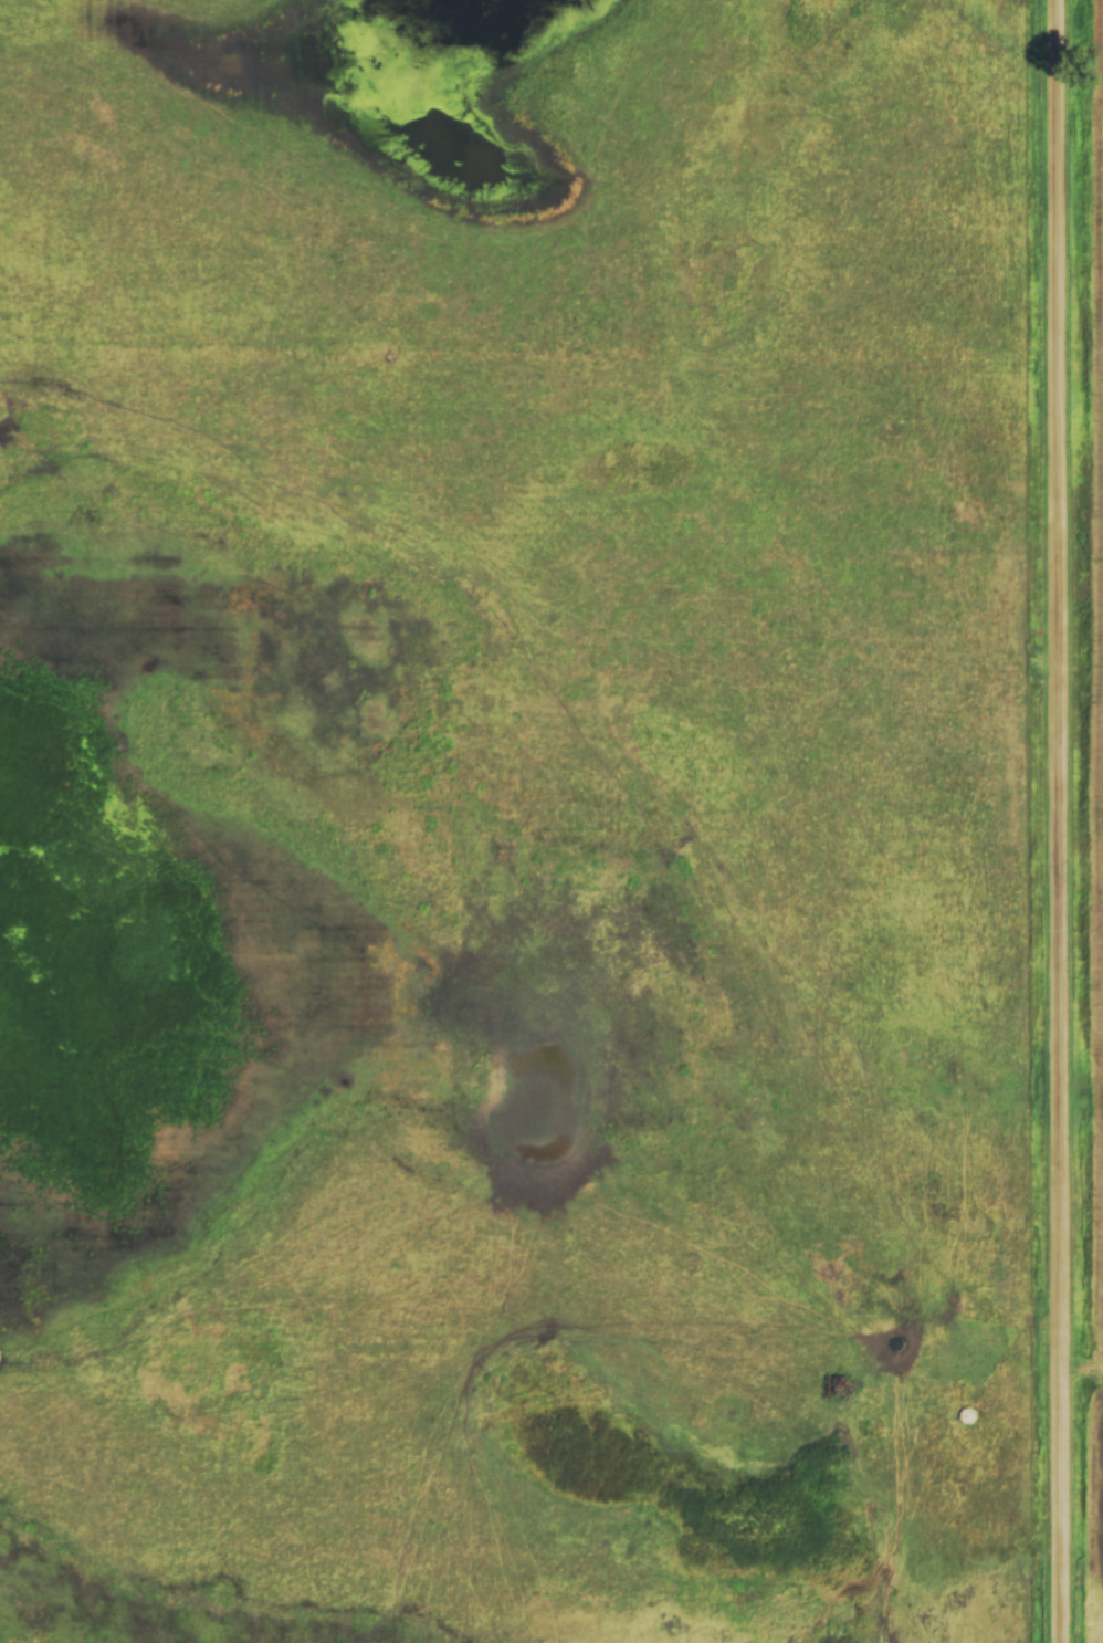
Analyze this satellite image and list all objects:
road: (1058, 820)
building: (985, 1228)

